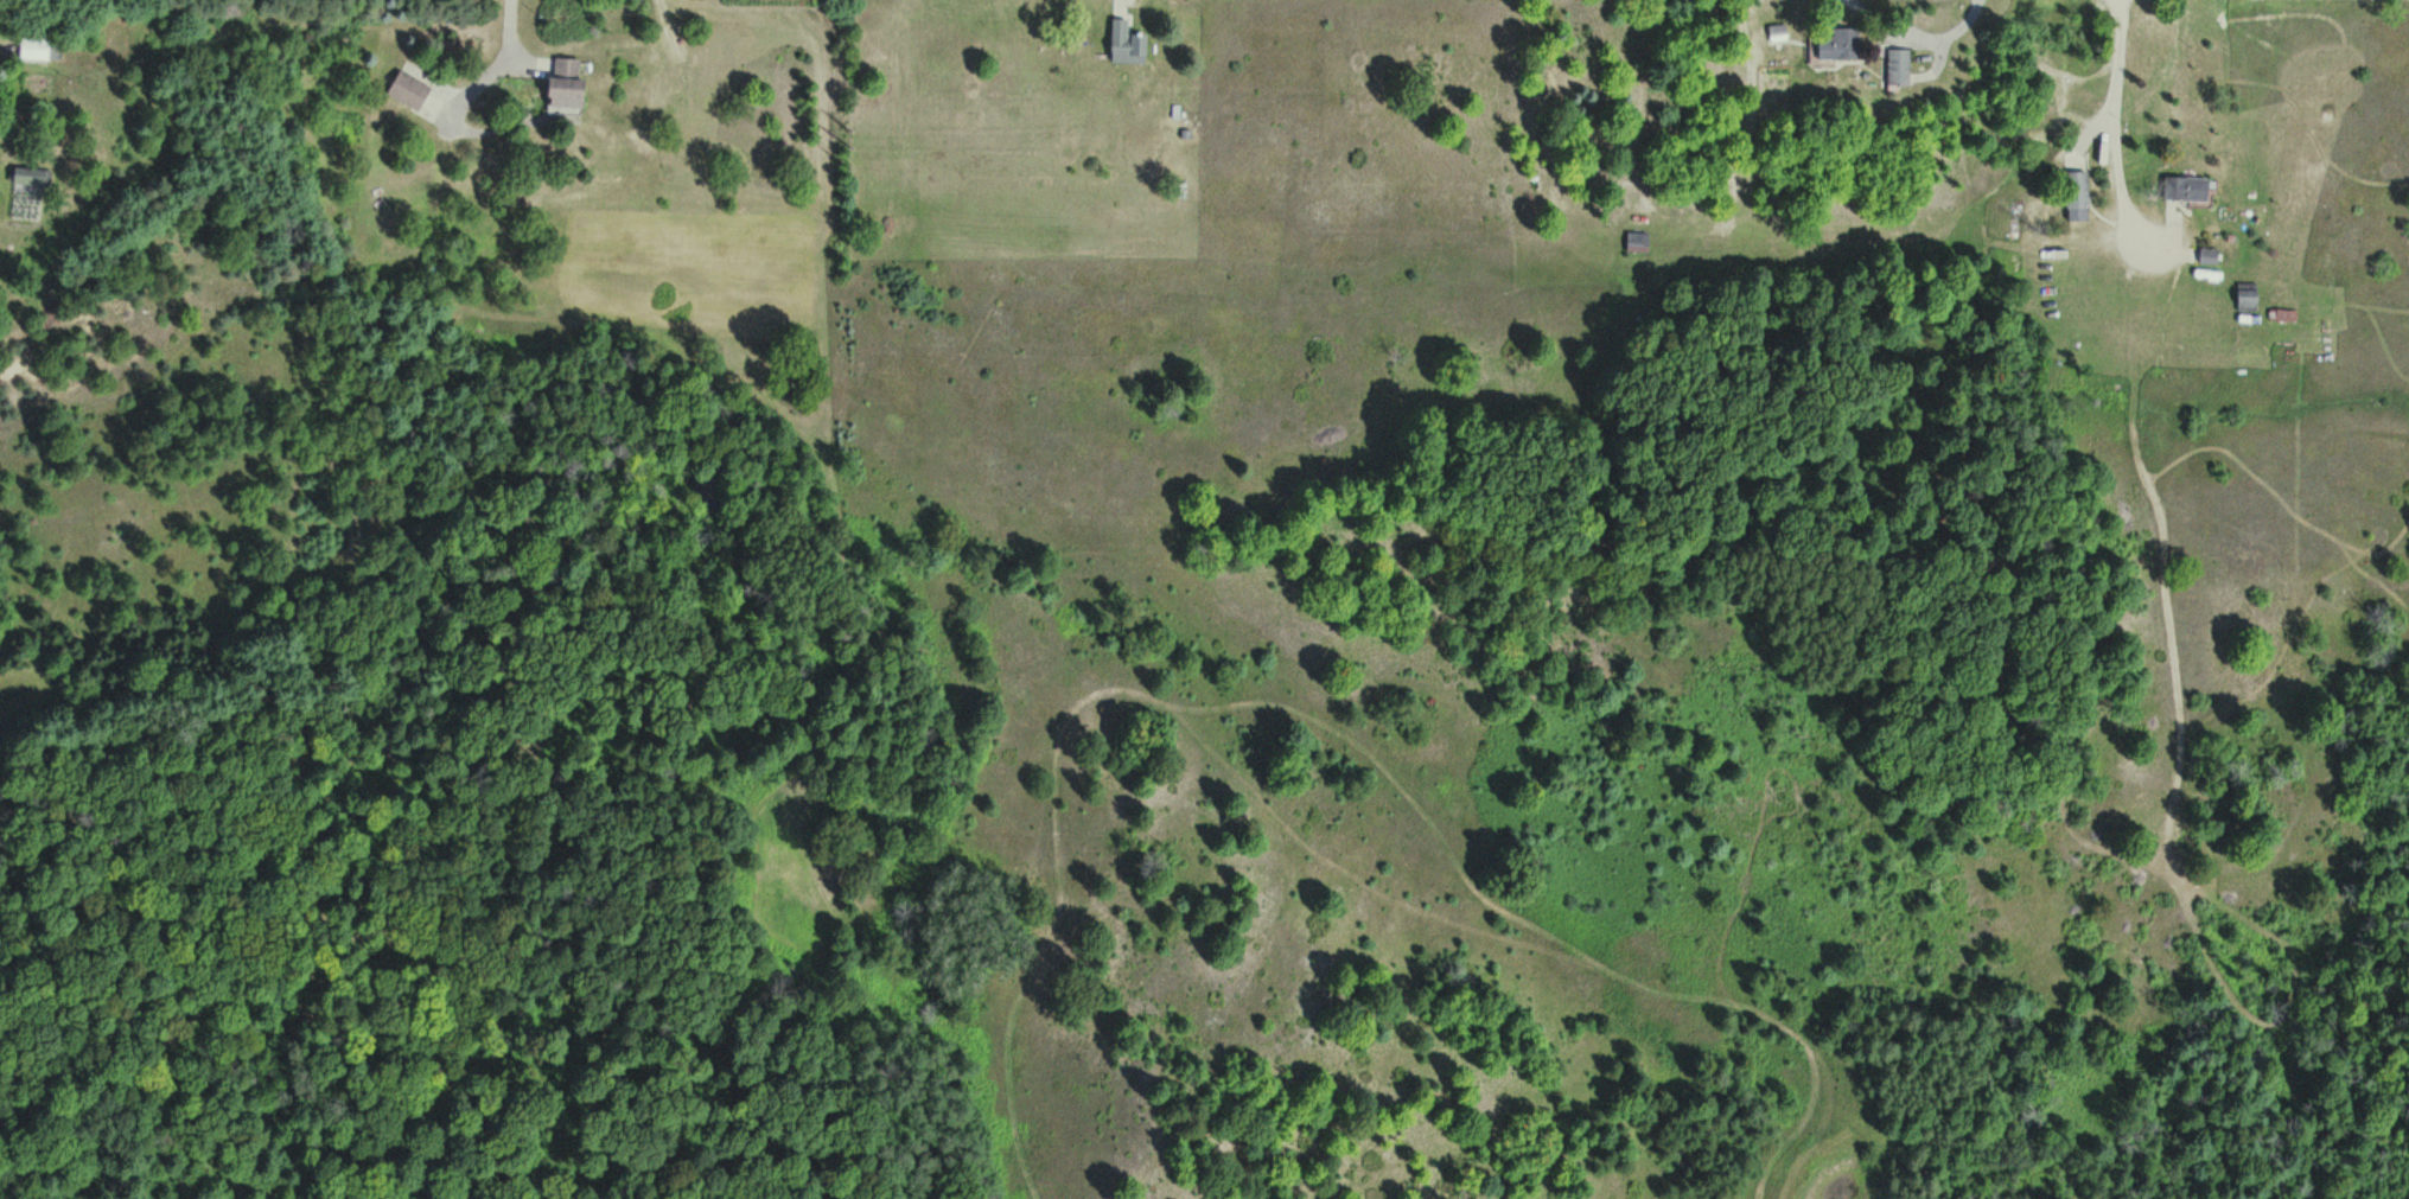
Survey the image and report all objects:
building: (1128, 43)
building: (1844, 43)
building: (42, 47)
building: (1905, 64)
building: (568, 82)
building: (410, 89)
building: (31, 174)
building: (2188, 187)
building: (2078, 194)
building: (1639, 240)
building: (2210, 255)
building: (2249, 296)
building: (2284, 314)

